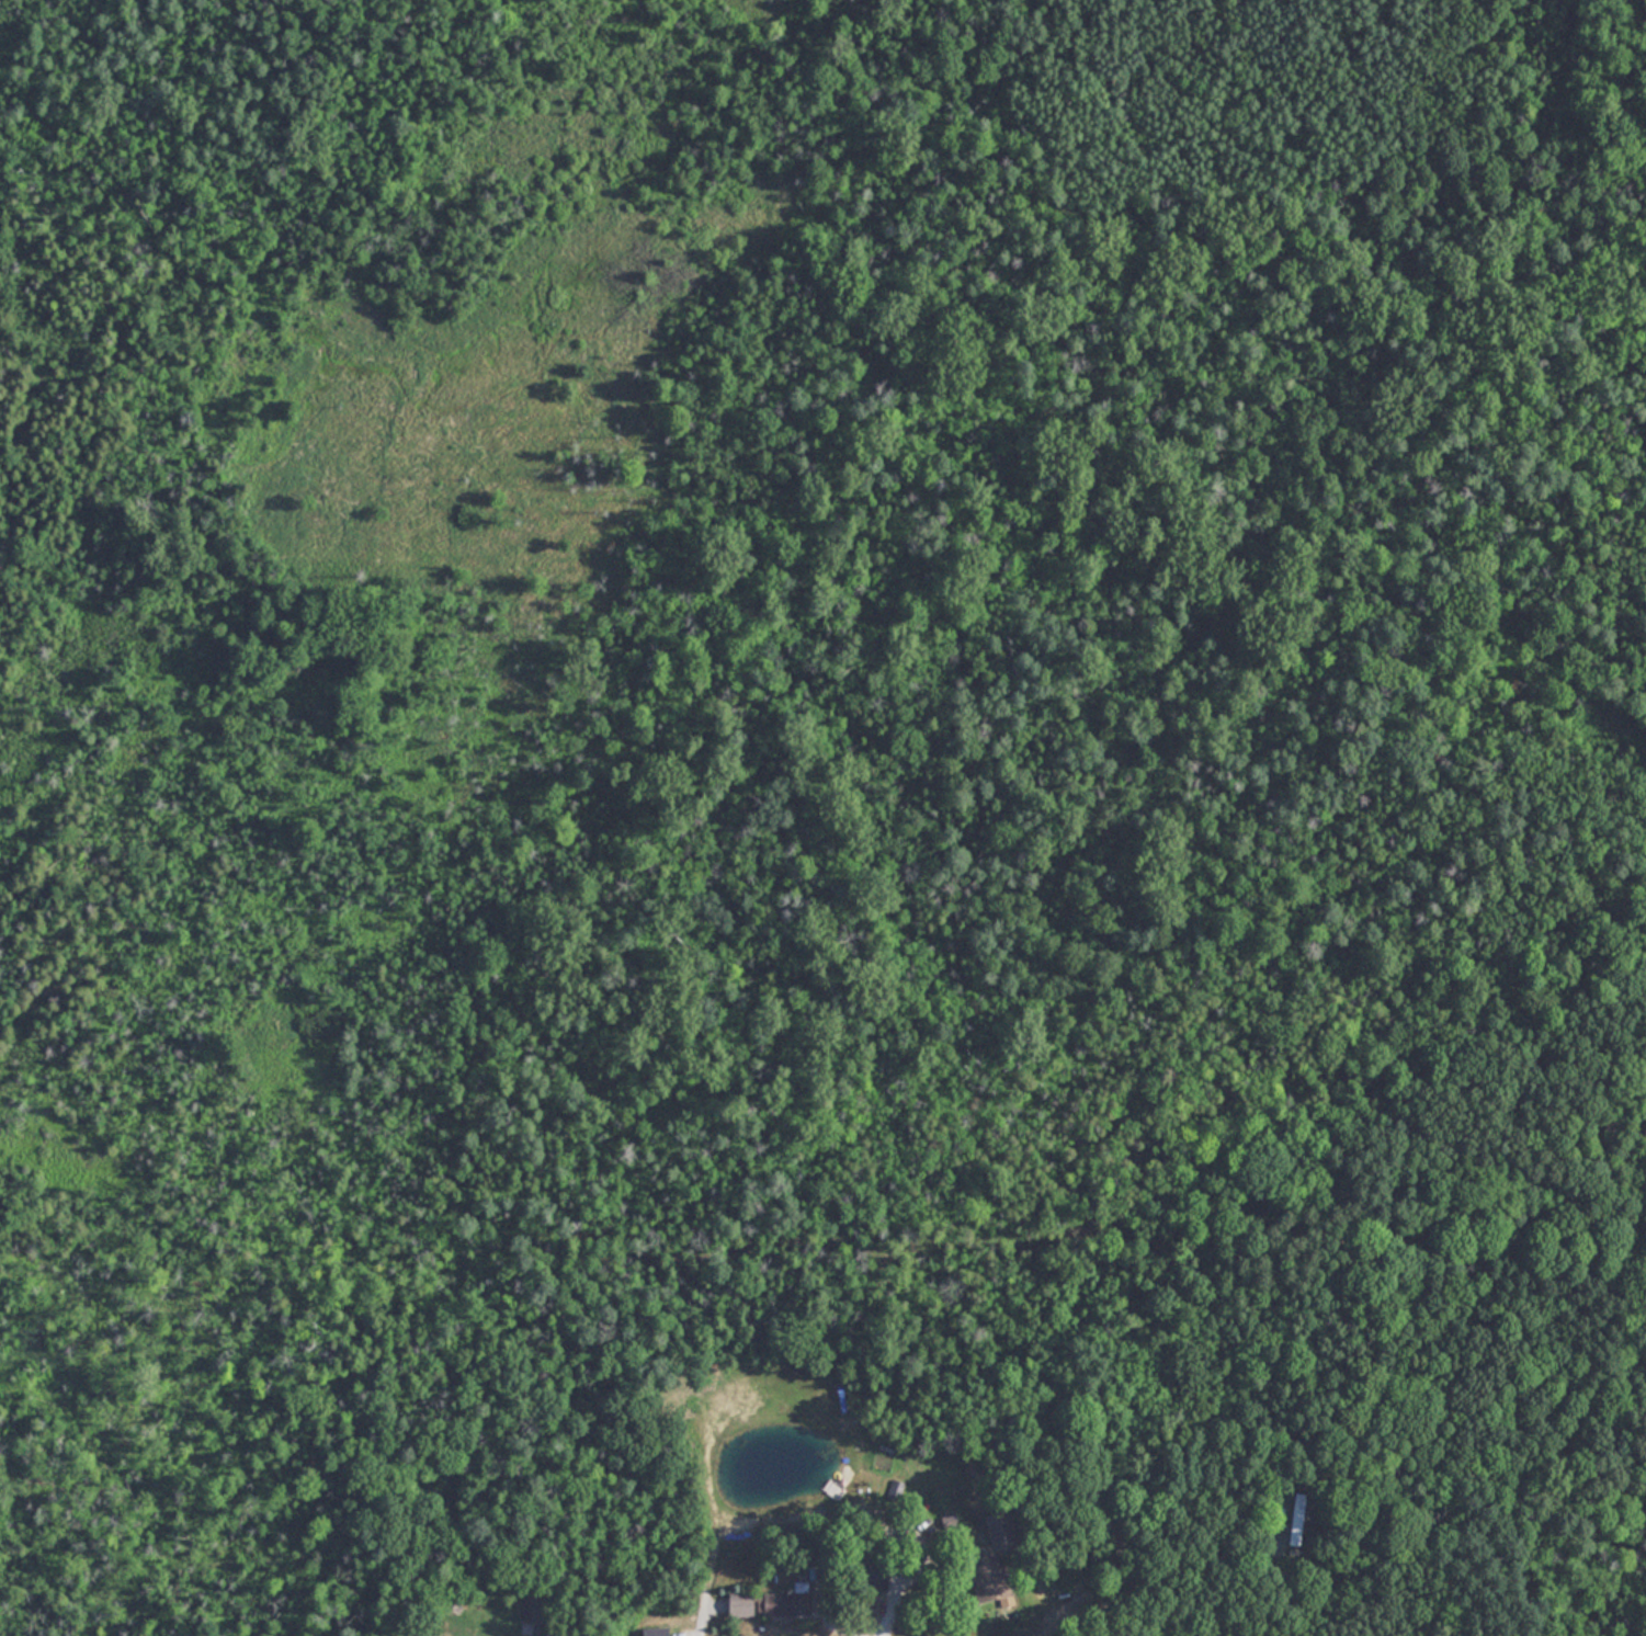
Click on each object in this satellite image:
park: (818, 613)
building: (1276, 1519)
building: (790, 1603)
building: (743, 1604)
building: (531, 1609)
road: (699, 1622)
road: (833, 1625)
building: (657, 1632)

